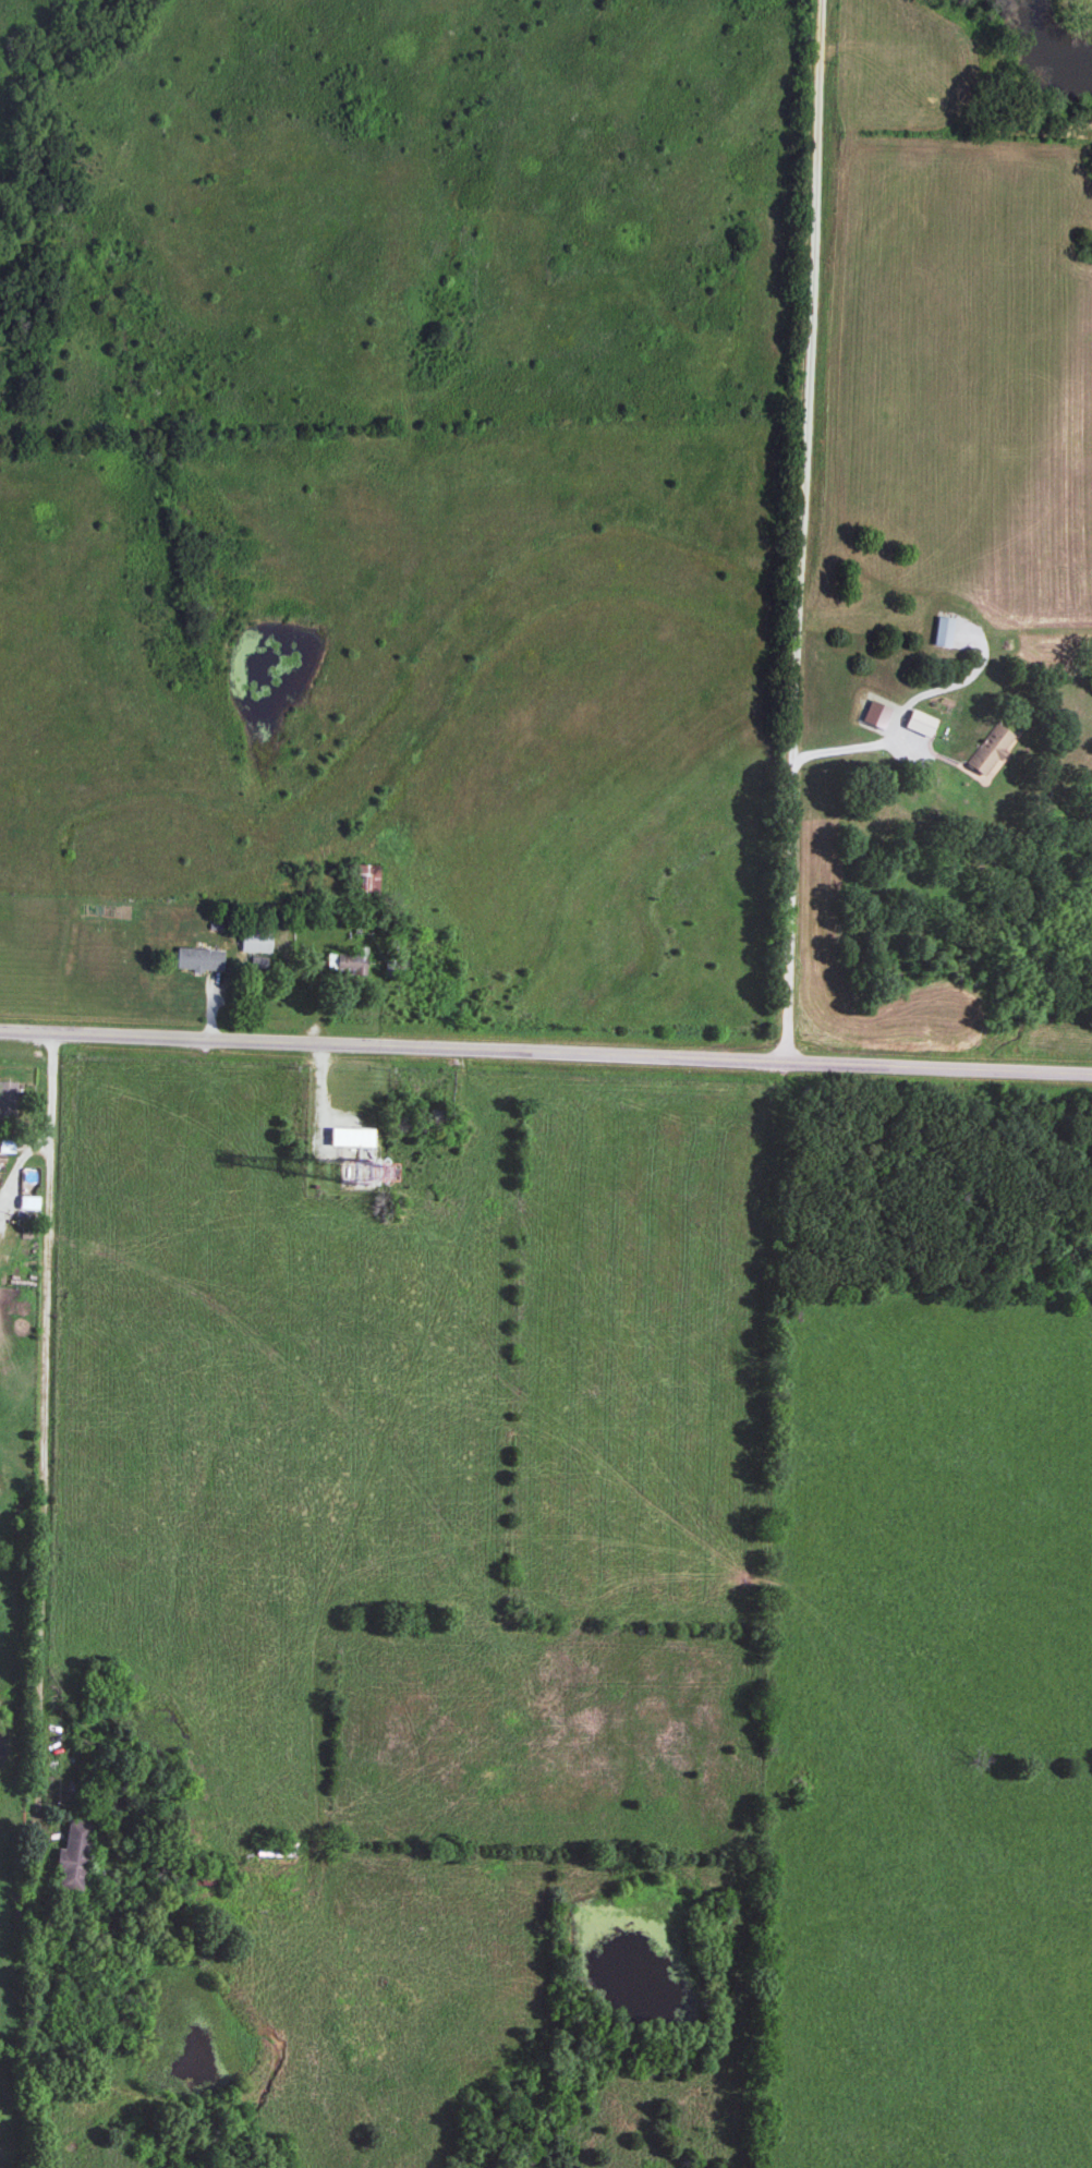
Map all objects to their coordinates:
road: (805, 532)
building: (945, 628)
building: (878, 711)
building: (922, 719)
road: (903, 727)
building: (992, 746)
building: (372, 875)
building: (257, 937)
building: (201, 956)
road: (320, 1047)
road: (545, 1054)
building: (8, 1098)
building: (353, 1134)
building: (8, 1142)
building: (31, 1200)
road: (41, 1601)
building: (74, 1851)

